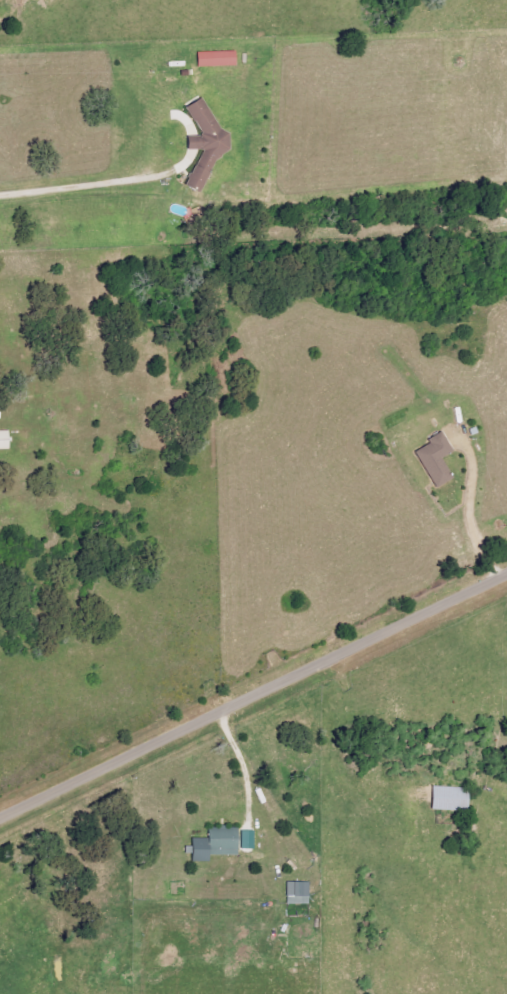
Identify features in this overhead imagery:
building: (219, 57)
building: (199, 126)
building: (209, 143)
road: (87, 171)
building: (1, 412)
building: (6, 439)
building: (430, 442)
building: (439, 458)
road: (466, 496)
road: (255, 695)
road: (243, 762)
building: (453, 798)
building: (250, 840)
building: (217, 844)
building: (300, 893)

